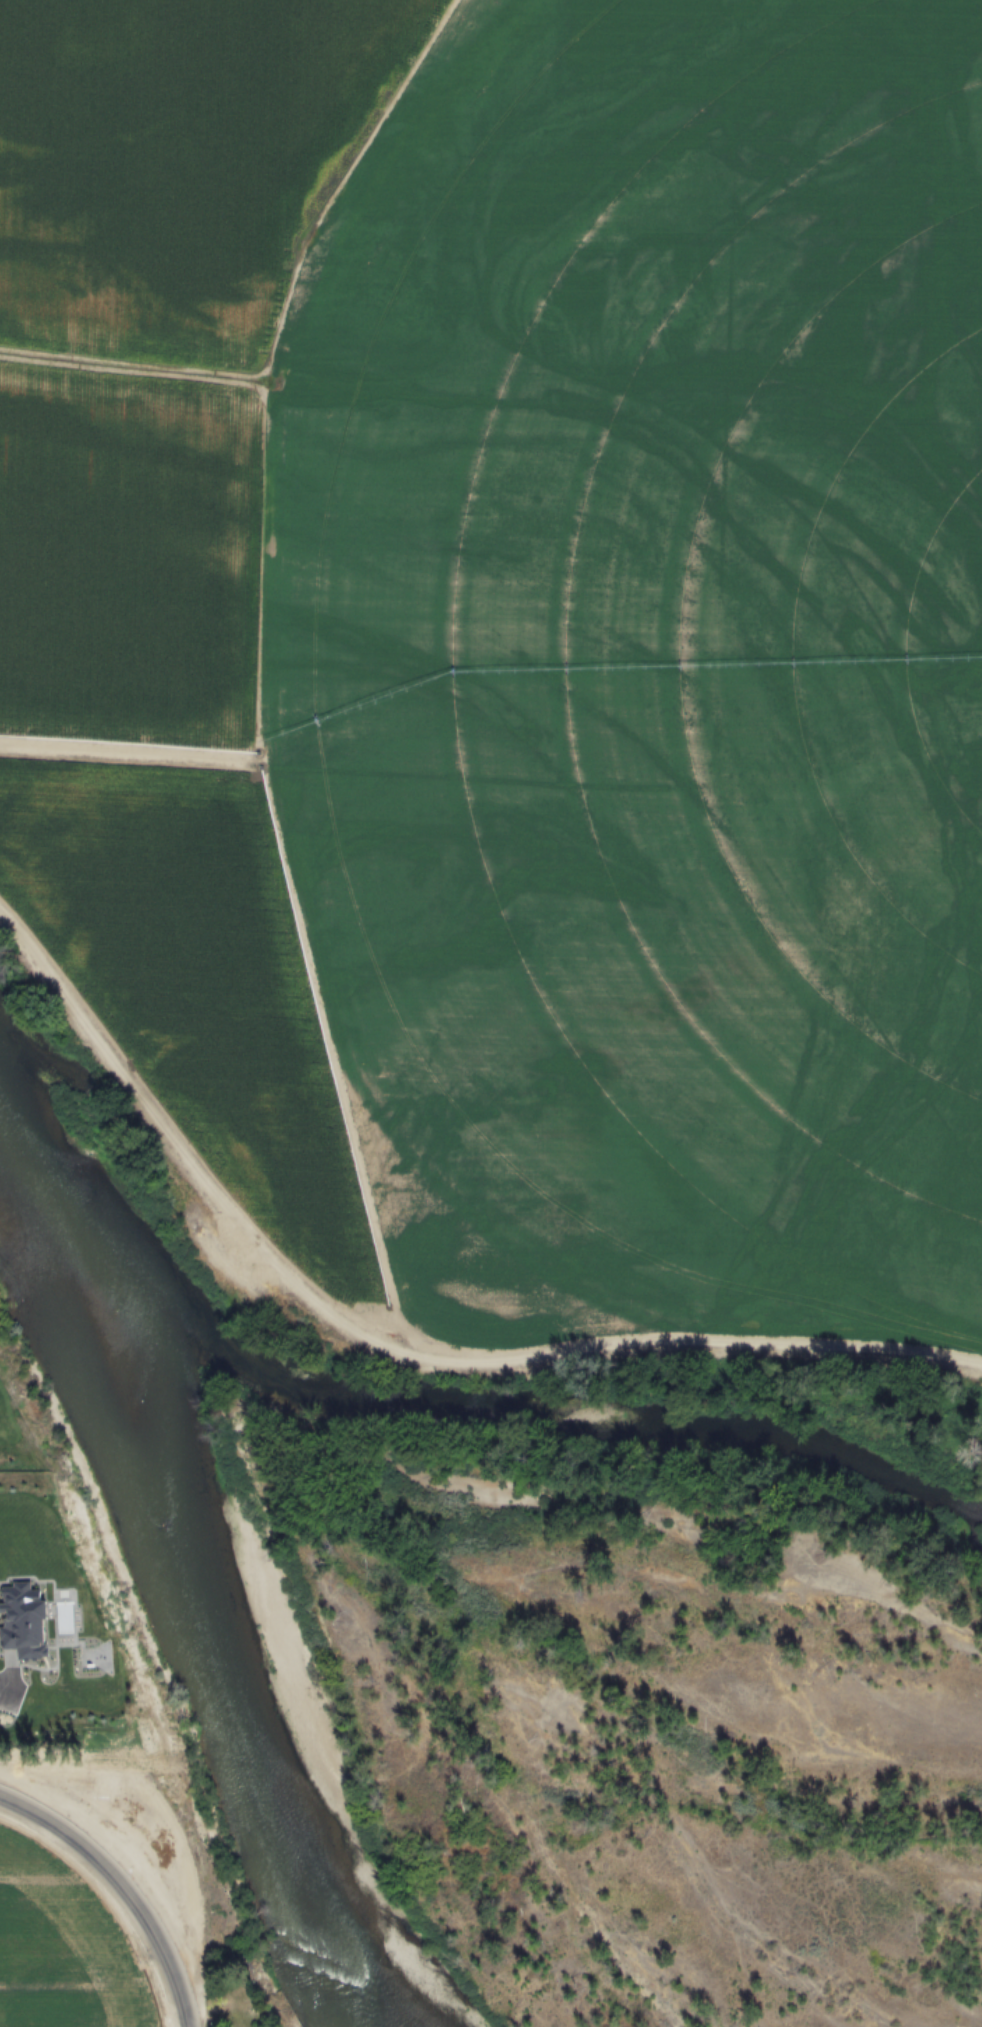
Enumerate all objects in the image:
road: (393, 1348)
river: (182, 1593)
road: (3, 1687)
road: (79, 1769)
road: (195, 1905)

